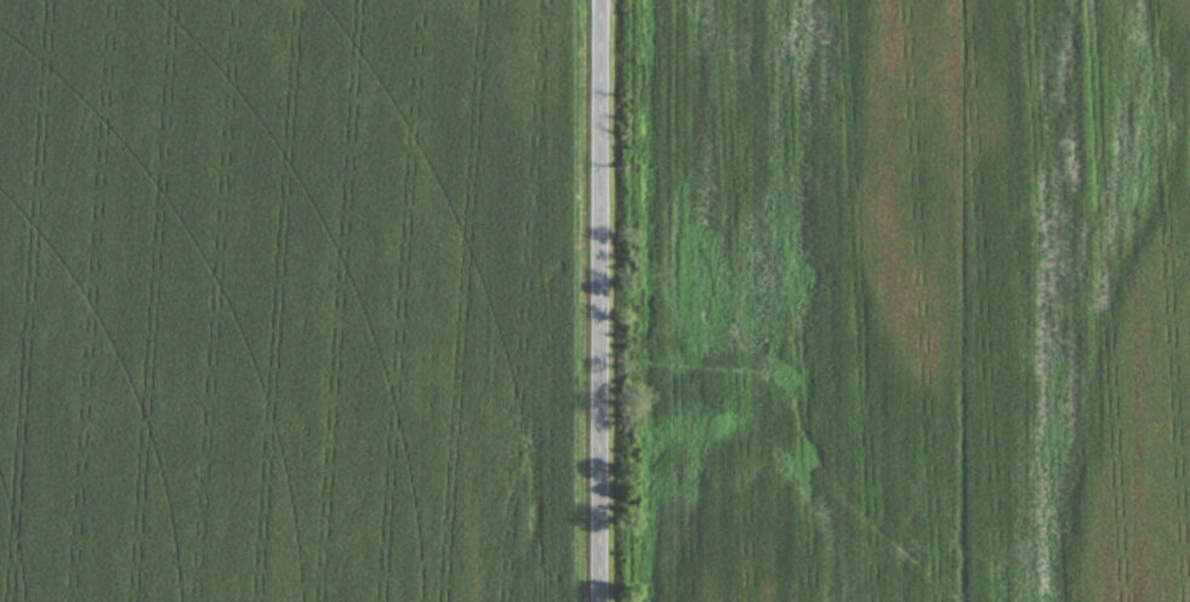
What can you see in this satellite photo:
road: (598, 300)

